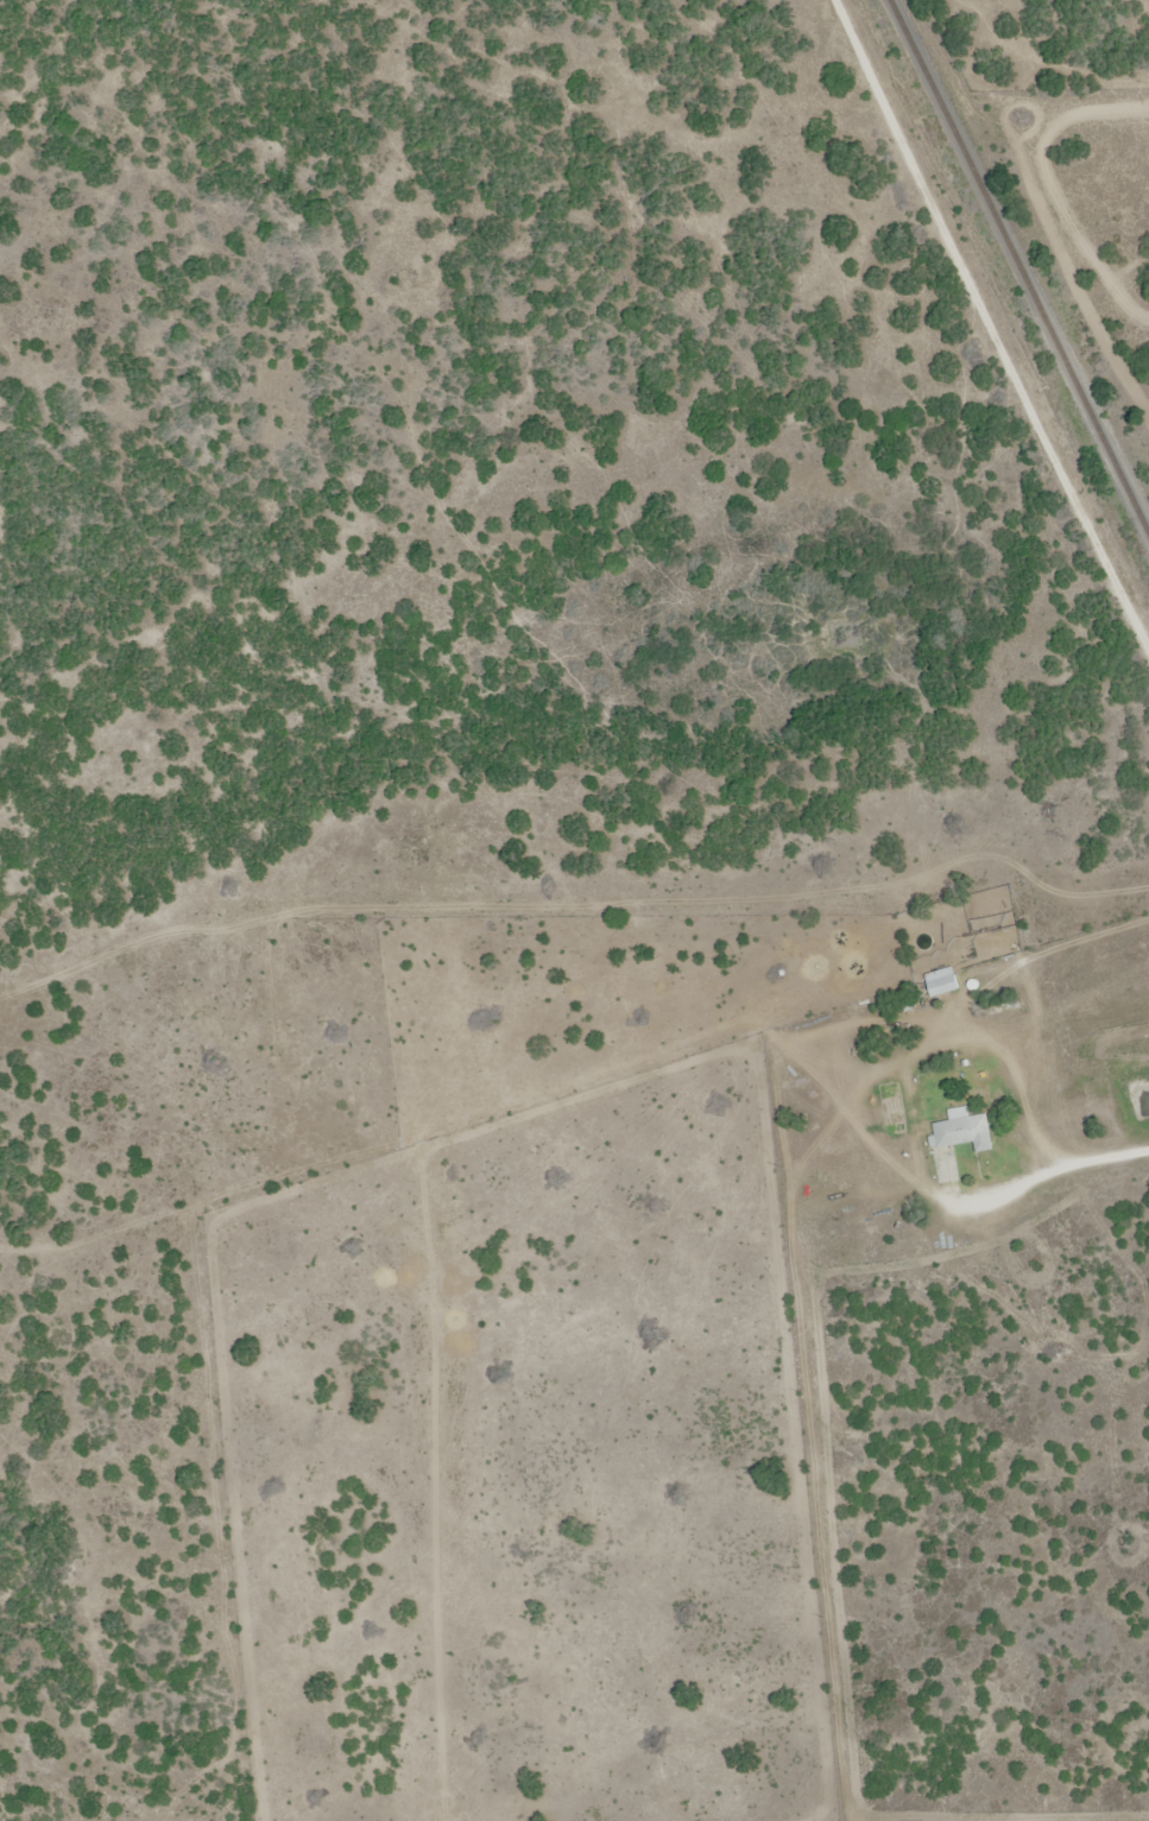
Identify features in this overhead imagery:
railway: (1019, 265)
road: (989, 322)
building: (942, 980)
road: (676, 1007)
building: (965, 1128)
road: (985, 1448)

